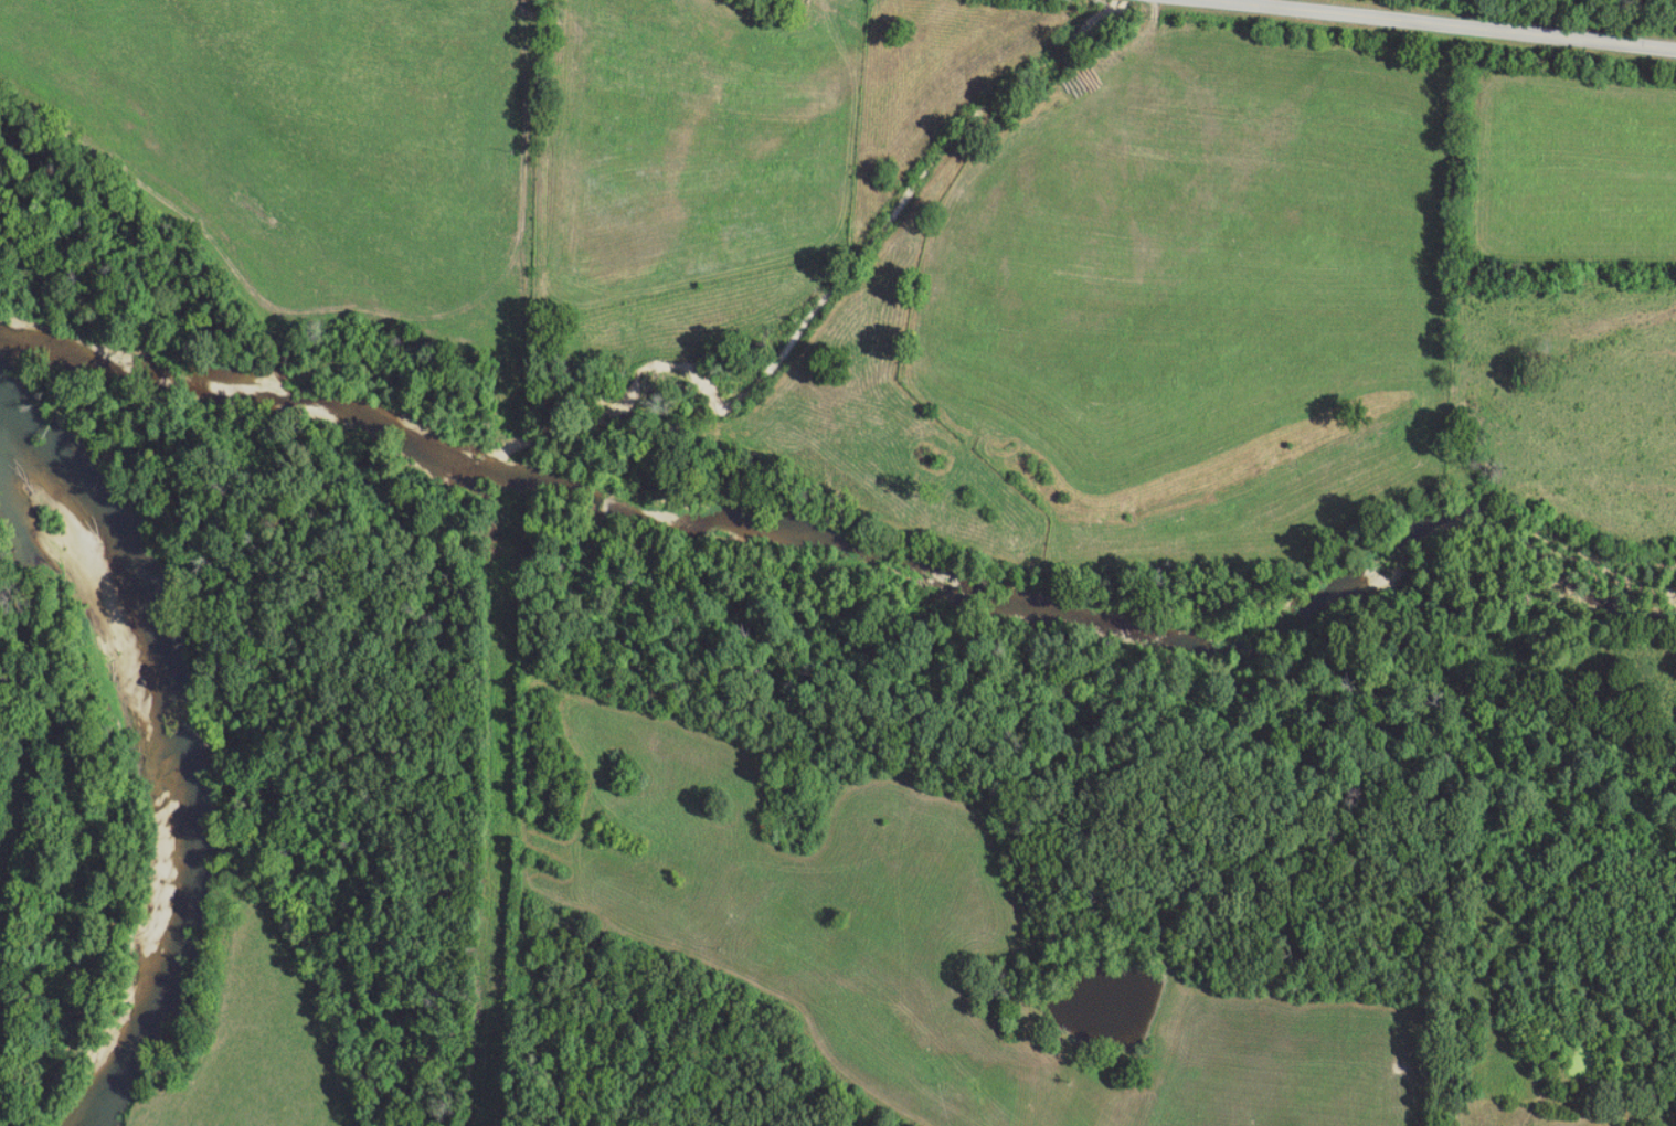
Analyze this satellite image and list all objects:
road: (1453, 22)
road: (914, 190)
river: (151, 767)

